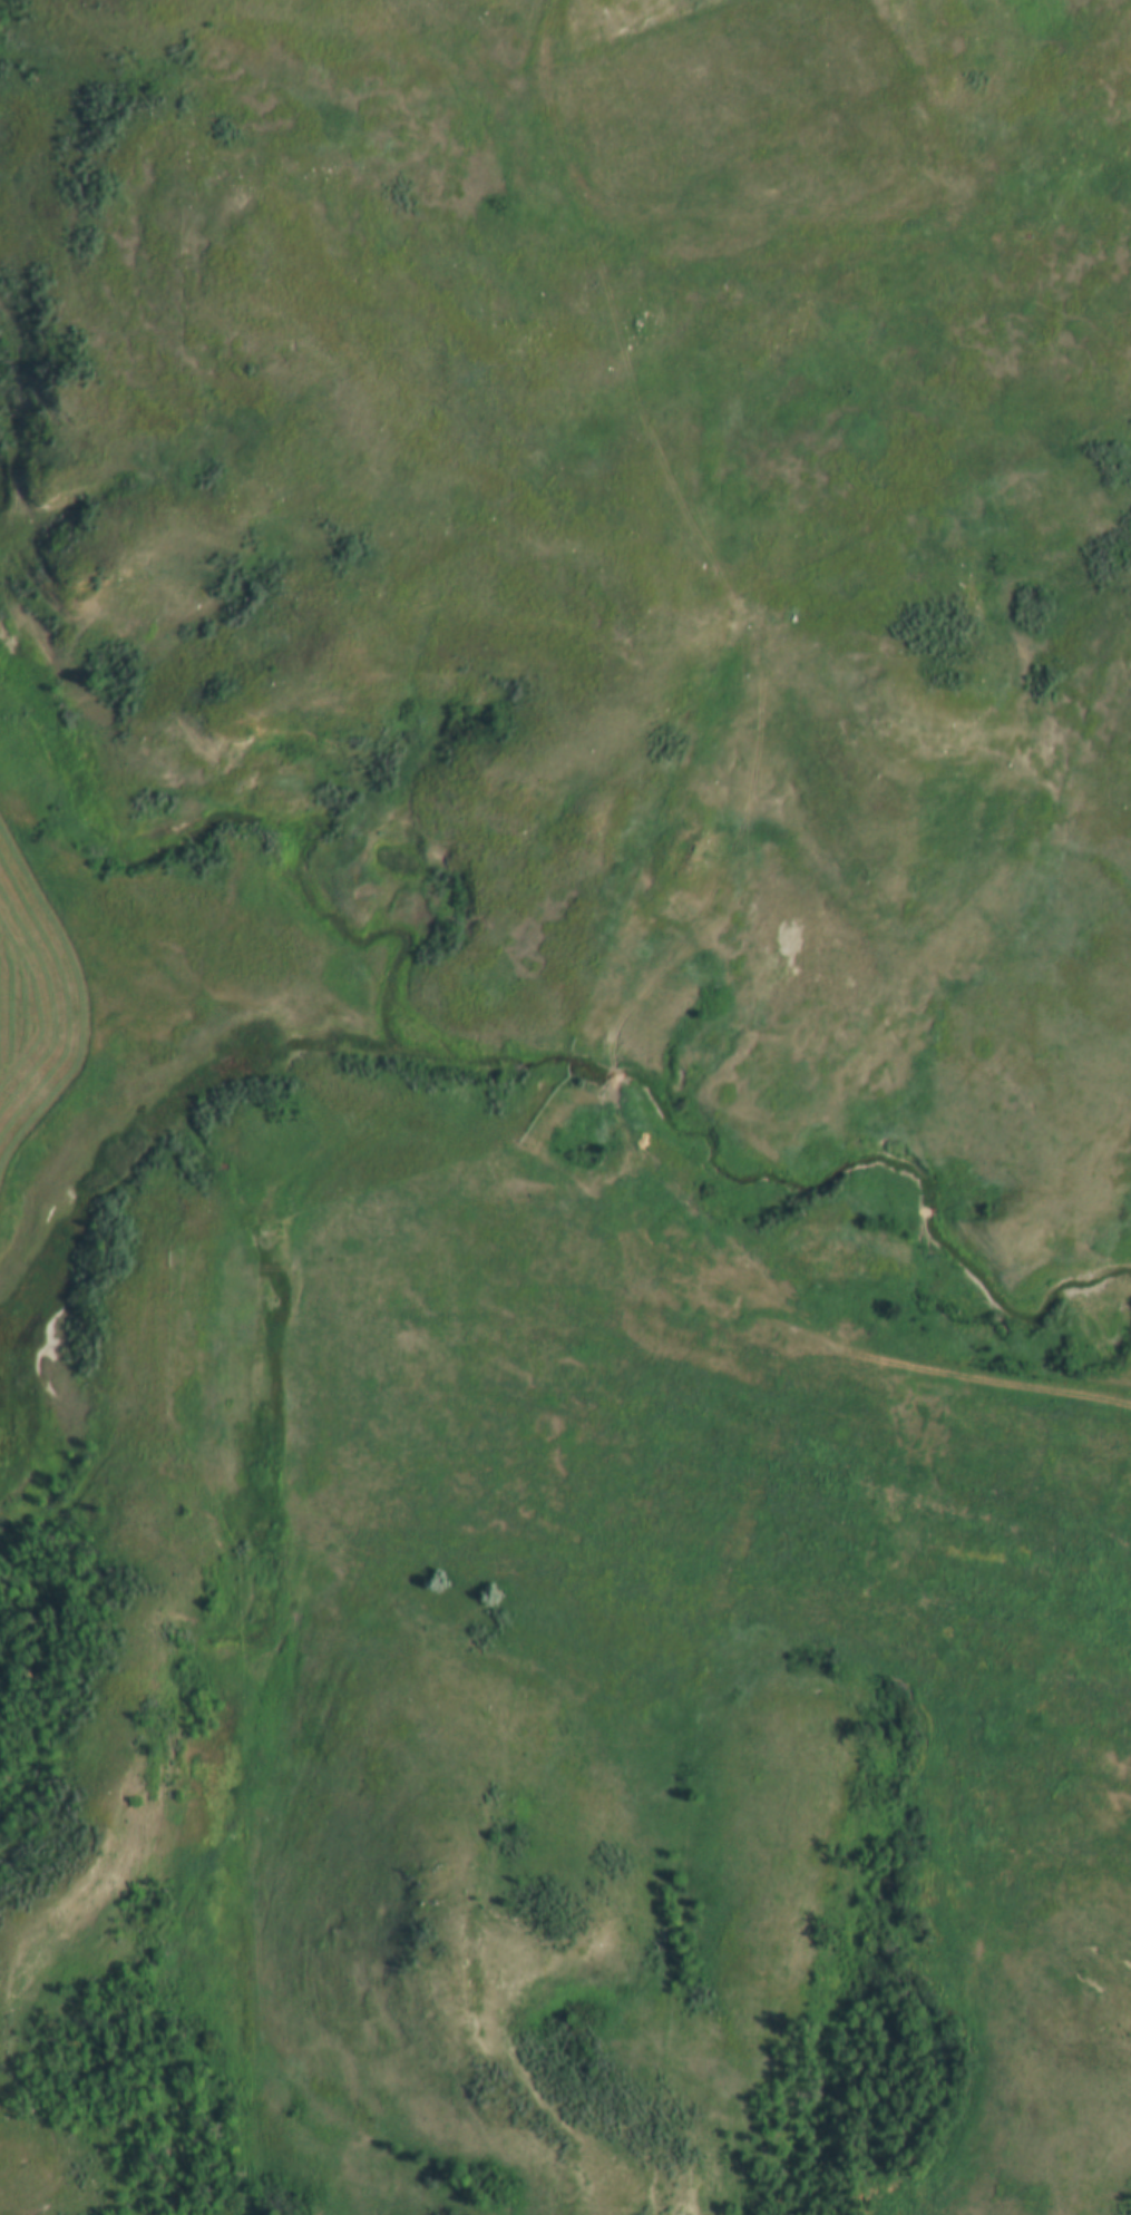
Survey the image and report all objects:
road: (871, 1435)

